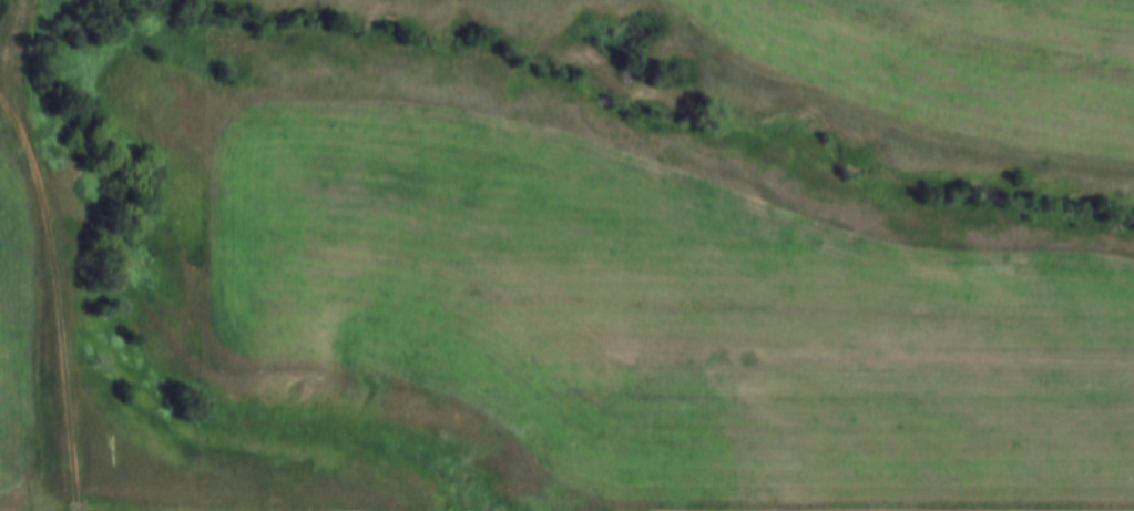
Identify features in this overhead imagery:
road: (61, 294)

